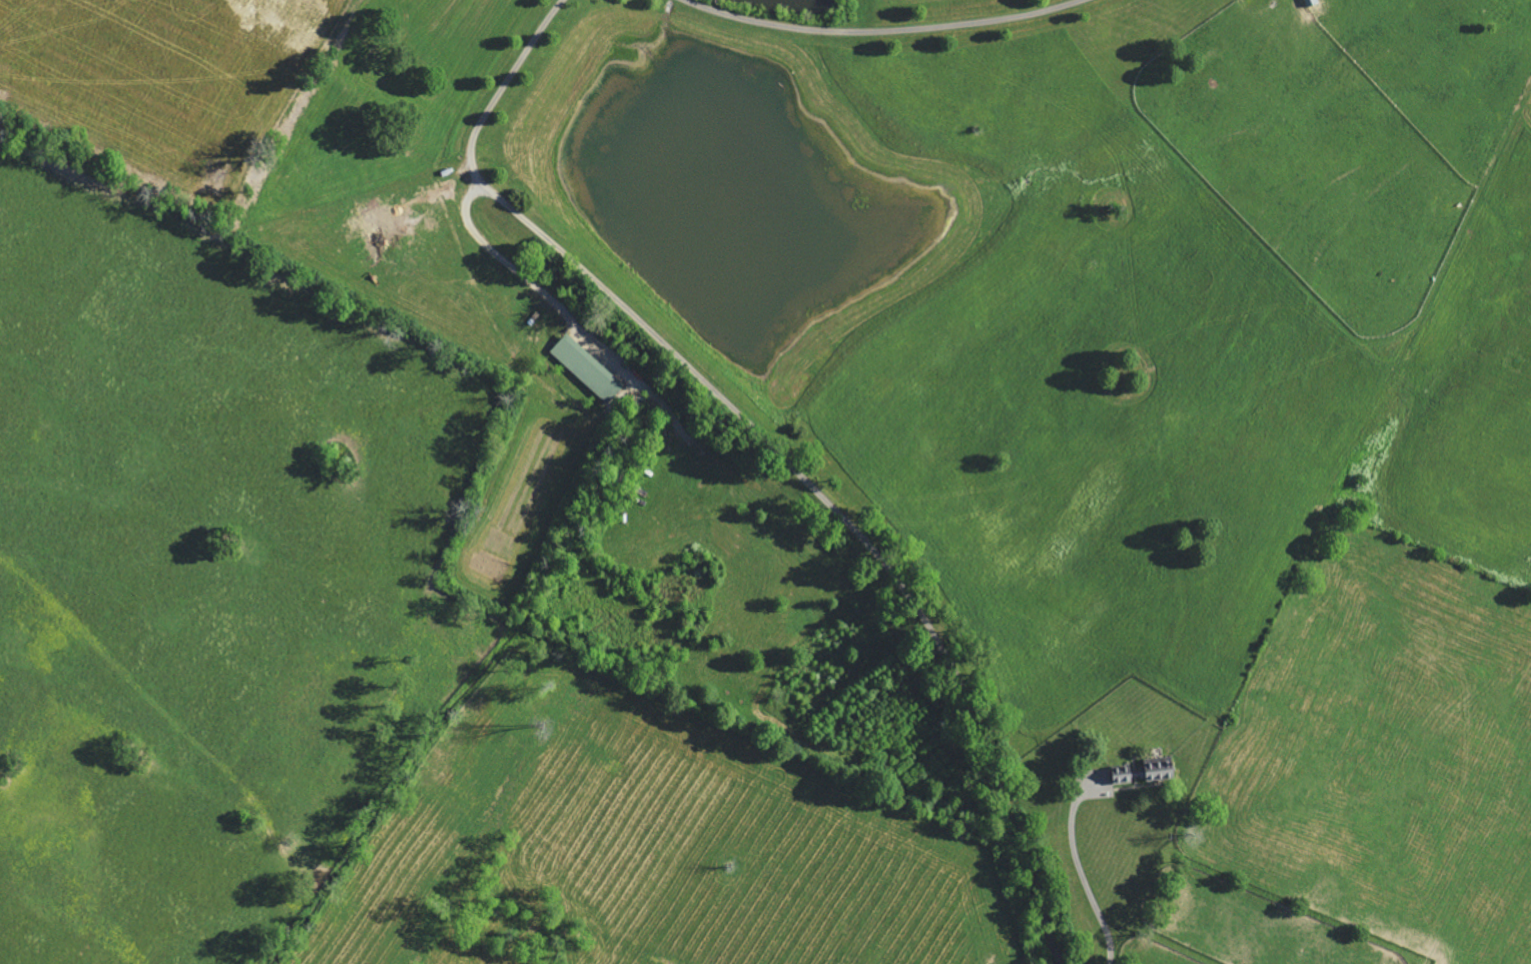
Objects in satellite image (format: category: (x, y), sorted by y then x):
road: (883, 30)
road: (465, 212)
building: (589, 370)
crop: (1011, 416)
road: (846, 518)
building: (1148, 773)
road: (1078, 864)
road: (1426, 961)

